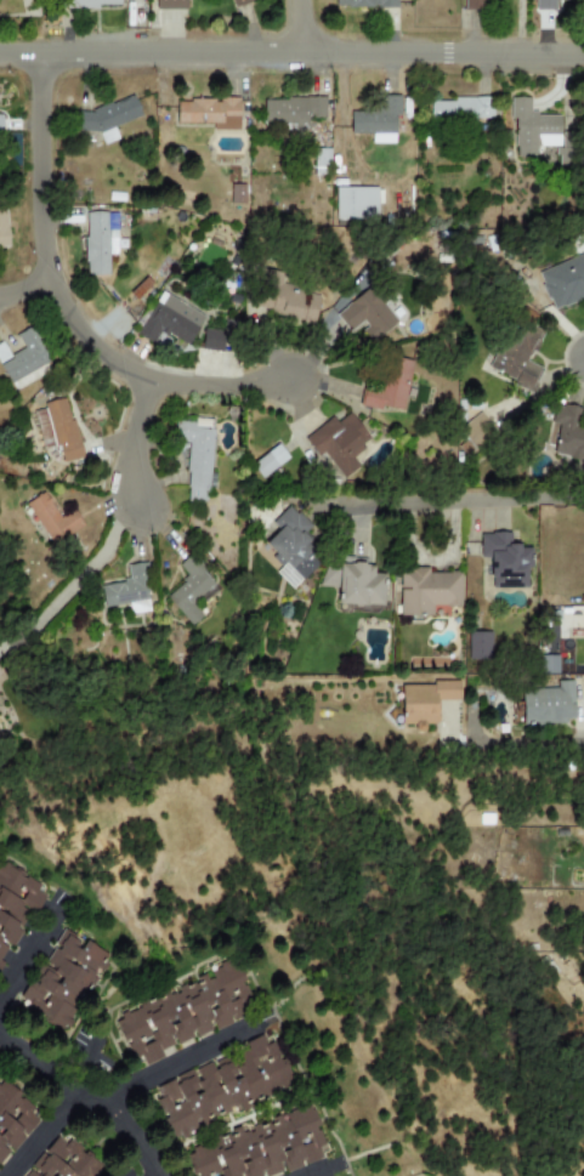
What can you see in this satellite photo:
building: (238, 1)
building: (89, 2)
building: (169, 4)
building: (364, 4)
building: (476, 4)
building: (546, 5)
road: (307, 23)
road: (291, 46)
building: (460, 108)
building: (293, 110)
building: (209, 112)
building: (107, 117)
building: (1, 120)
building: (375, 120)
building: (529, 126)
building: (236, 193)
building: (355, 203)
building: (2, 231)
building: (98, 242)
building: (563, 282)
road: (29, 285)
road: (69, 296)
building: (285, 302)
building: (365, 316)
building: (169, 320)
building: (212, 340)
building: (516, 356)
building: (24, 359)
building: (389, 385)
building: (56, 430)
building: (567, 432)
road: (141, 433)
building: (336, 443)
building: (195, 458)
building: (268, 460)
road: (469, 499)
building: (50, 518)
building: (296, 549)
building: (505, 561)
road: (86, 574)
building: (359, 585)
building: (426, 590)
building: (126, 592)
building: (194, 592)
building: (478, 646)
building: (549, 666)
road: (506, 700)
building: (426, 703)
building: (548, 705)
building: (17, 909)
road: (33, 943)
building: (63, 981)
building: (182, 1017)
road: (182, 1056)
building: (221, 1087)
road: (92, 1090)
building: (15, 1119)
road: (45, 1130)
building: (268, 1146)
building: (64, 1160)
road: (317, 1168)

